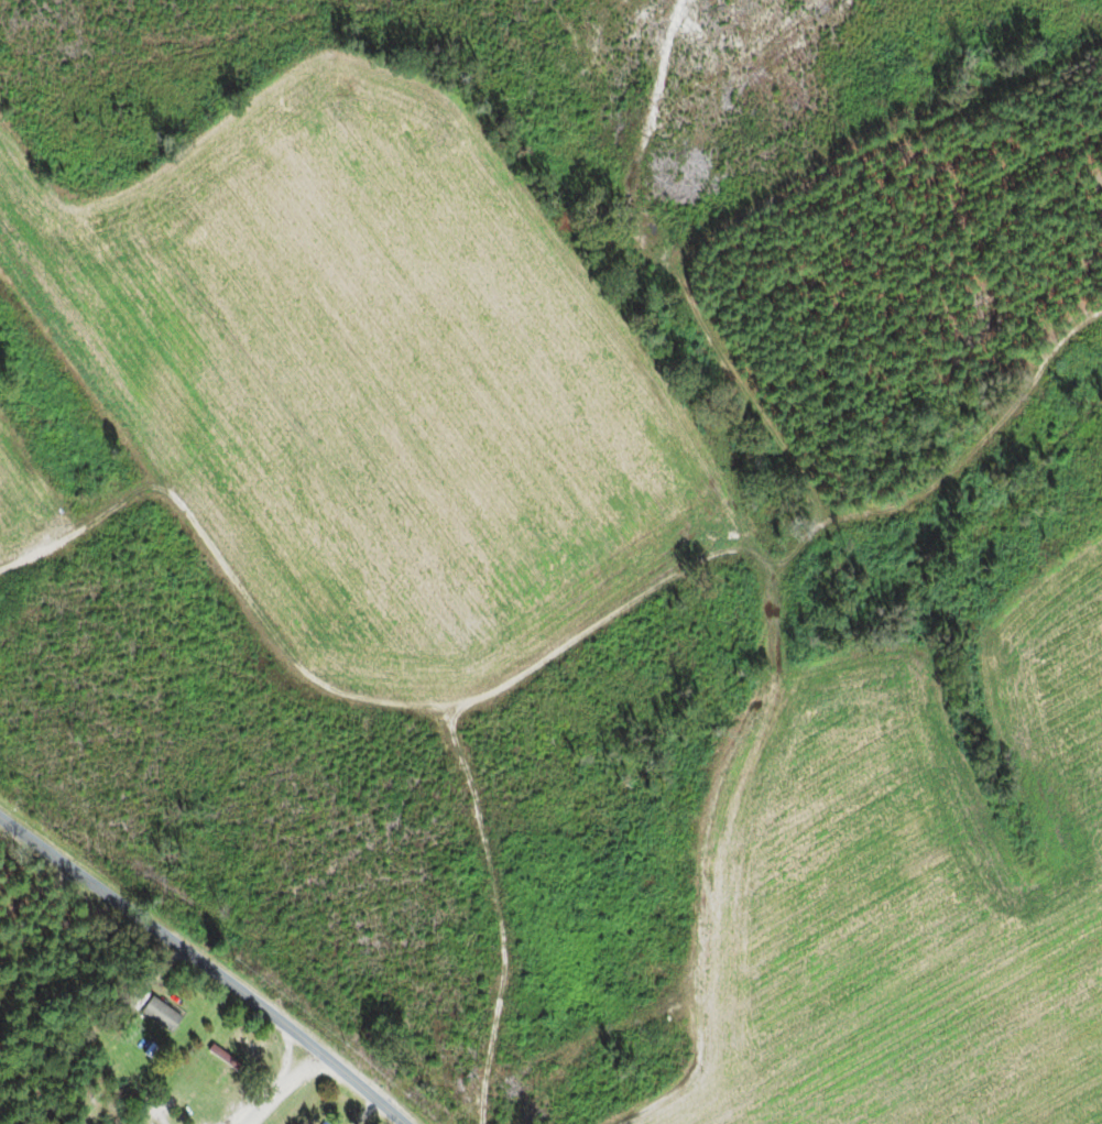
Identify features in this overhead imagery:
road: (80, 873)
building: (151, 1016)
road: (271, 1028)
building: (216, 1054)
road: (336, 1110)

